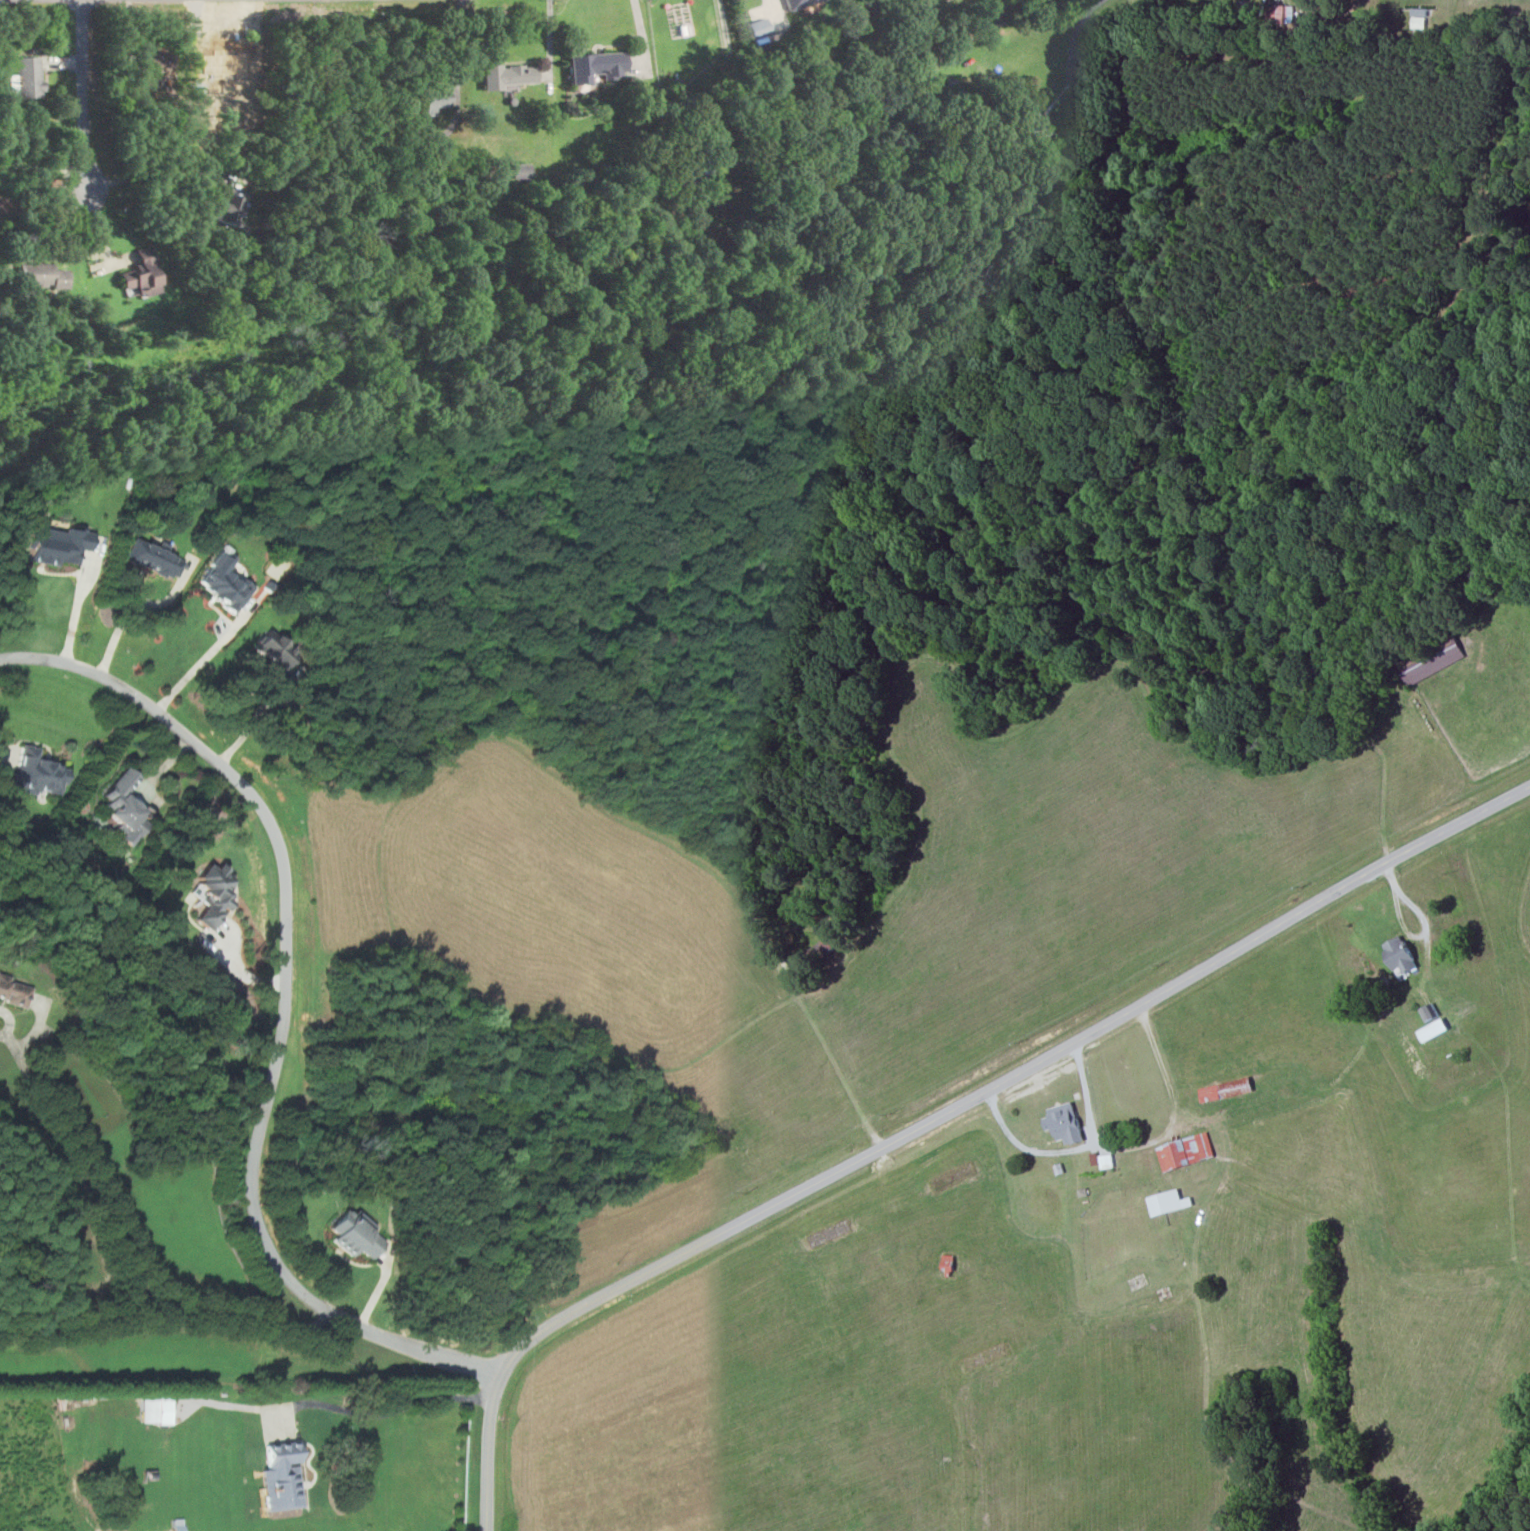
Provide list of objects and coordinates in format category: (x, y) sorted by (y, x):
building: (795, 3)
building: (1283, 15)
road: (1077, 25)
building: (758, 26)
road: (641, 31)
road: (551, 37)
building: (596, 64)
building: (152, 65)
building: (510, 74)
building: (28, 76)
road: (736, 88)
road: (83, 92)
building: (433, 96)
building: (1035, 122)
road: (42, 164)
building: (521, 169)
road: (164, 170)
building: (228, 205)
building: (141, 272)
building: (42, 275)
building: (56, 544)
building: (153, 559)
building: (224, 582)
road: (78, 603)
road: (133, 603)
building: (275, 650)
building: (1431, 659)
road: (193, 673)
road: (4, 760)
road: (158, 771)
building: (38, 773)
building: (125, 806)
building: (213, 895)
road: (1426, 923)
building: (818, 952)
building: (1400, 955)
building: (14, 991)
road: (285, 1007)
building: (1434, 1029)
building: (1226, 1089)
road: (942, 1115)
building: (1065, 1123)
road: (1146, 1145)
road: (1025, 1147)
building: (1186, 1151)
building: (1168, 1201)
building: (357, 1234)
building: (948, 1262)
building: (157, 1410)
road: (386, 1414)
building: (283, 1477)

